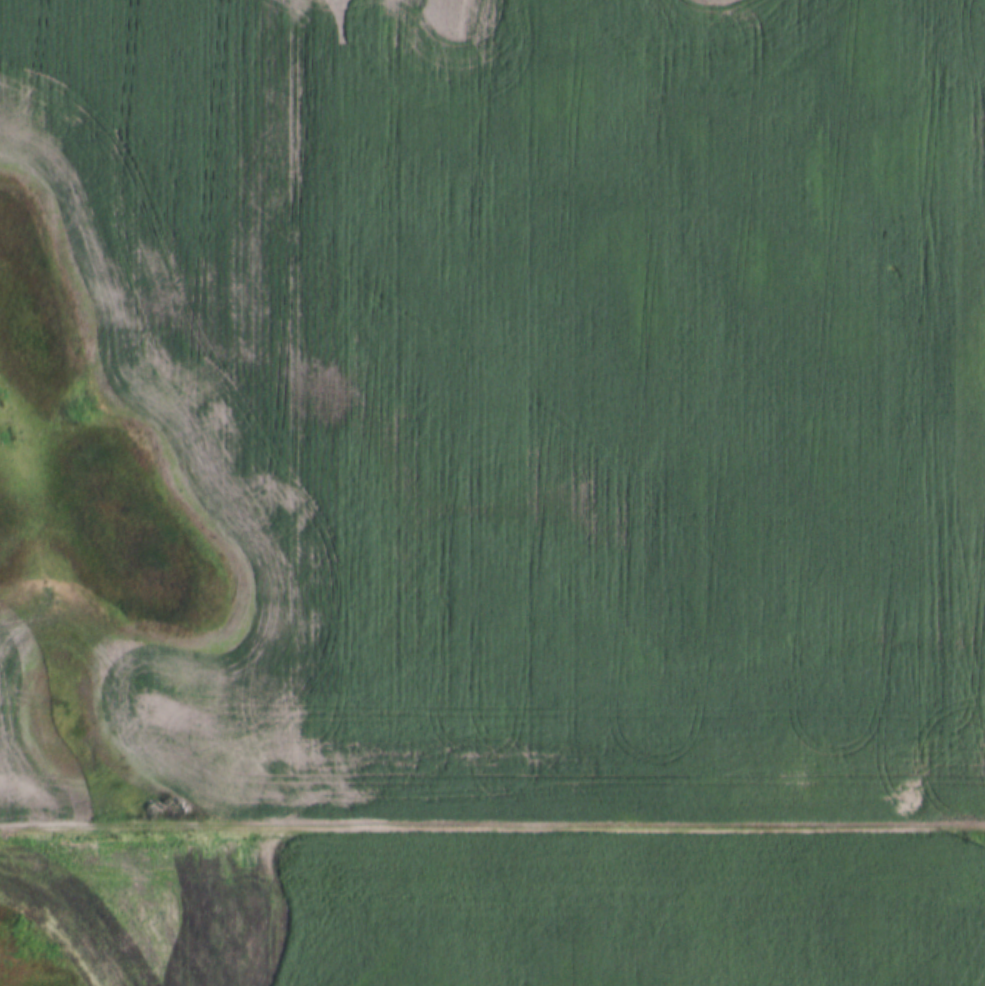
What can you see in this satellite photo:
road: (492, 823)

